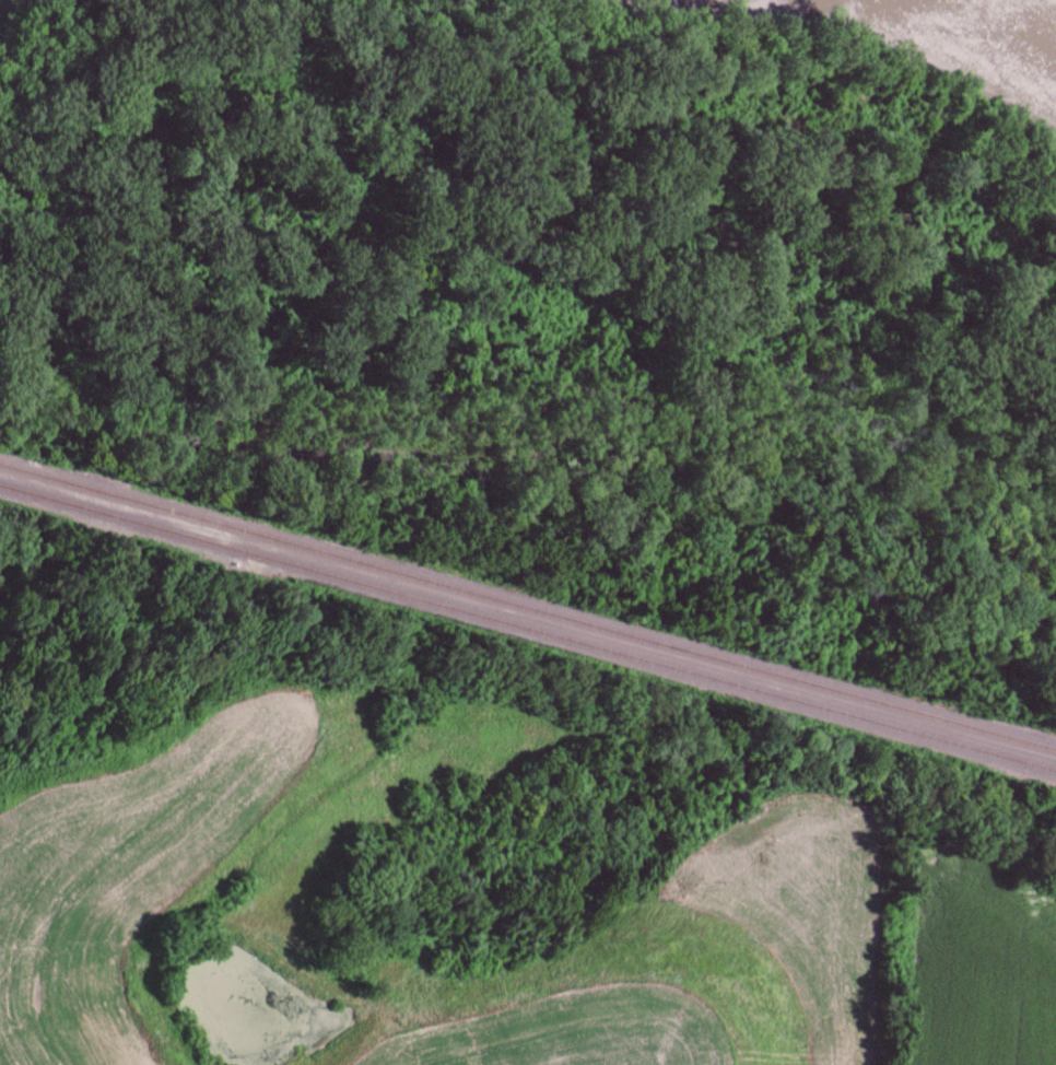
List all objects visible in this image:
railway: (527, 608)
railway: (528, 629)

